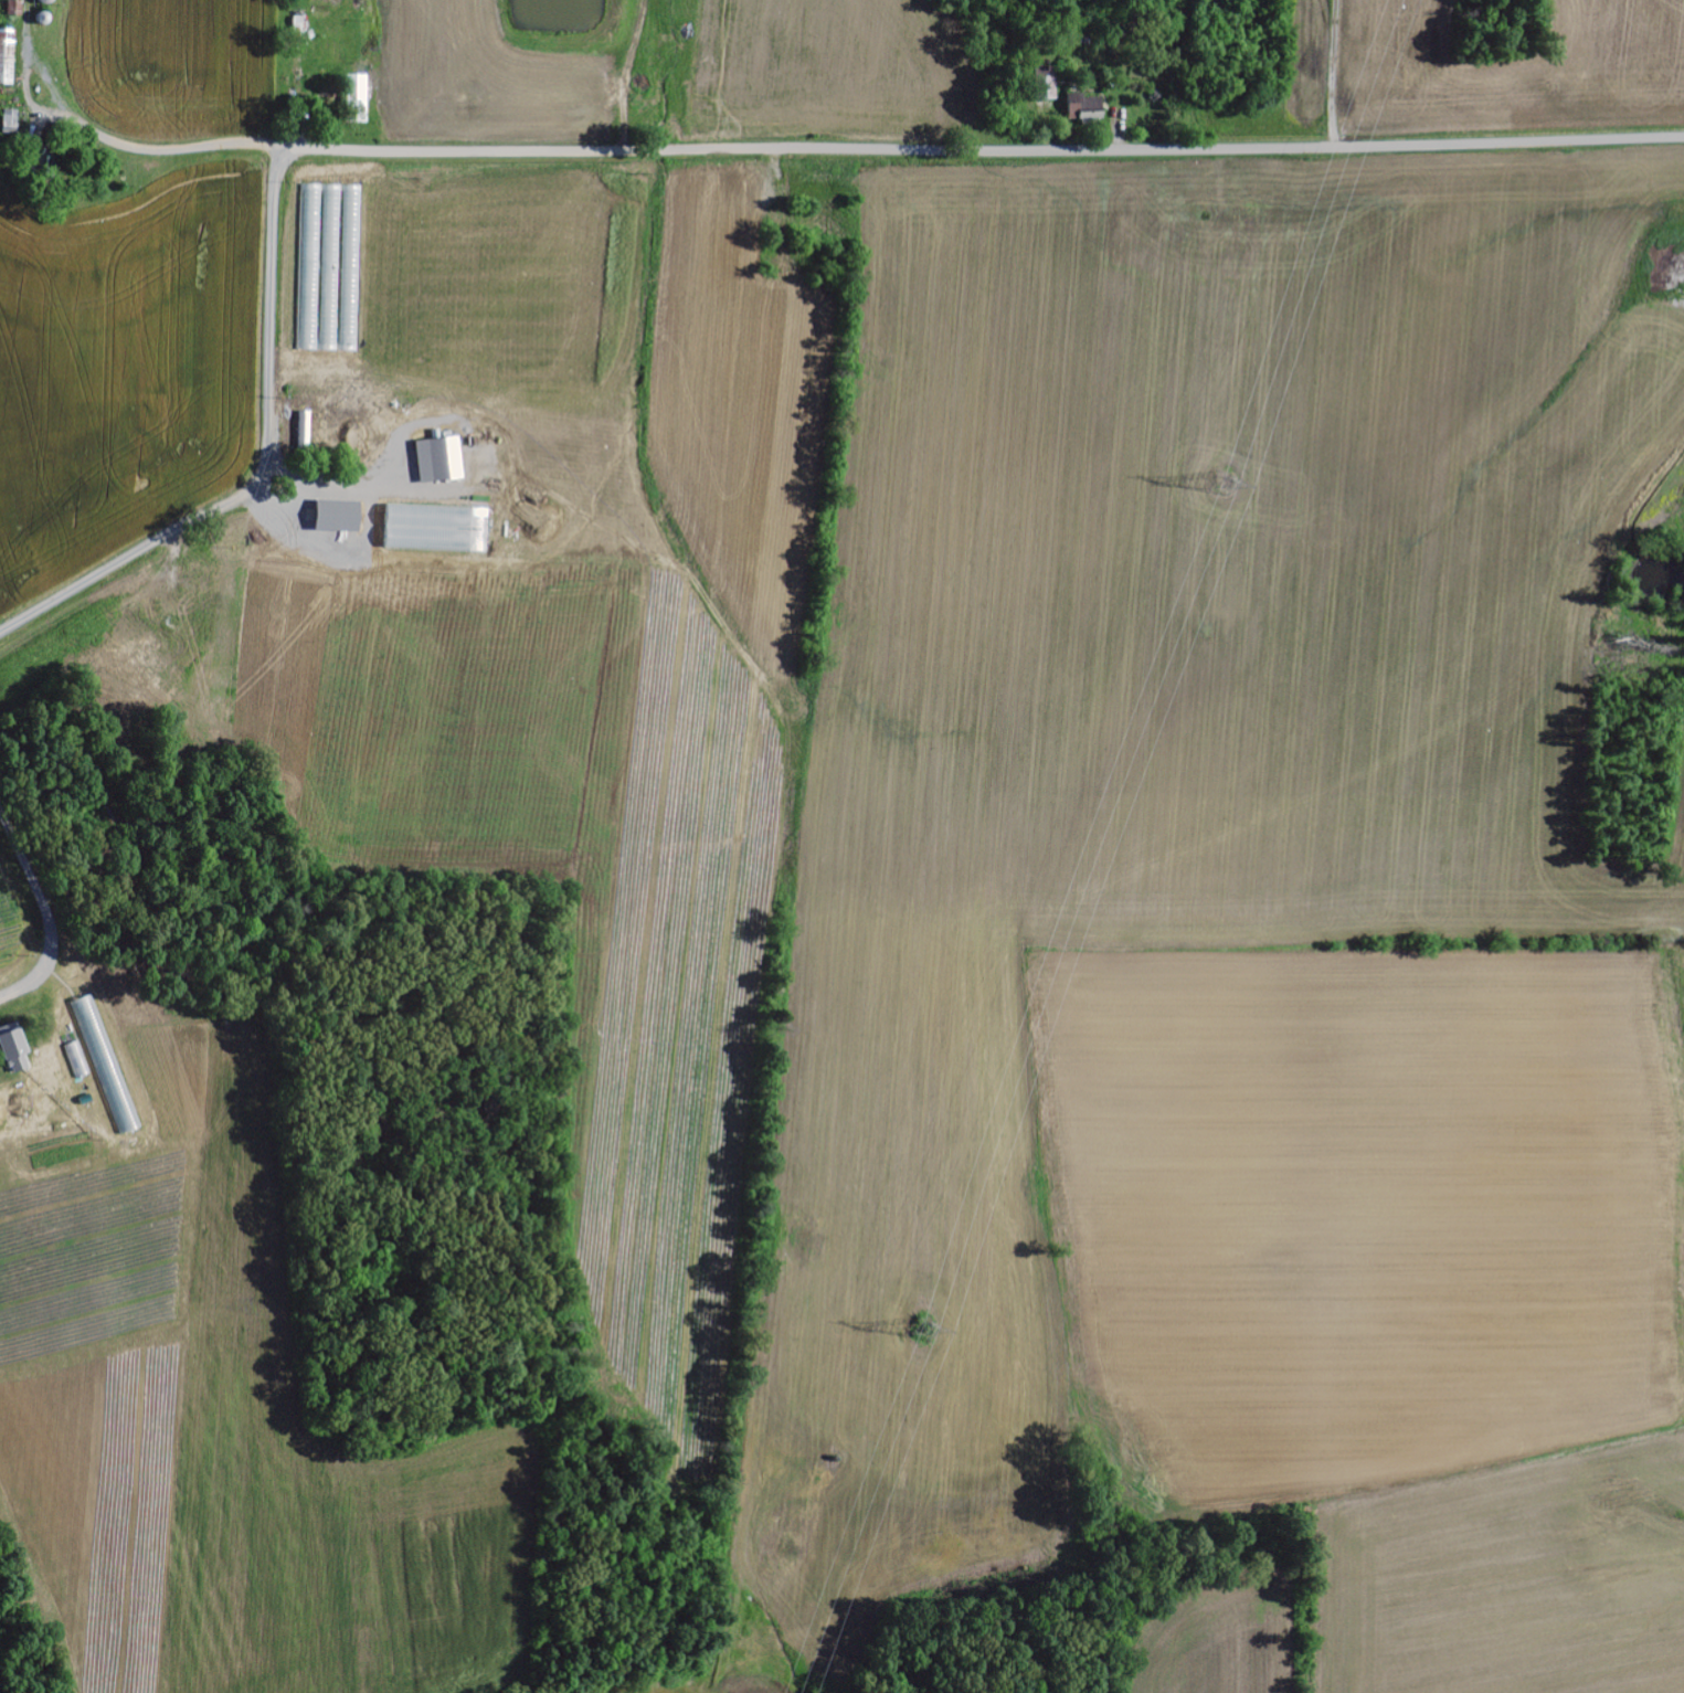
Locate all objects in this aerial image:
building: (7, 56)
building: (1046, 84)
building: (627, 92)
building: (1085, 108)
building: (11, 119)
road: (669, 150)
building: (442, 461)
power tower: (1216, 477)
power tower: (920, 1334)

